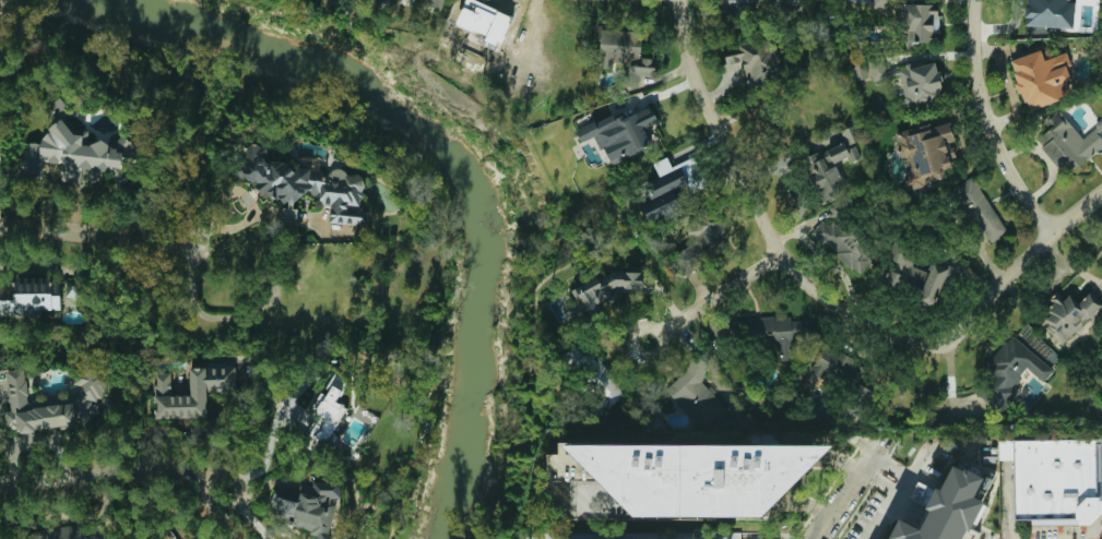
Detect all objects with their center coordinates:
building: (856, 1)
building: (880, 3)
building: (1048, 12)
building: (484, 20)
building: (920, 22)
building: (624, 56)
building: (756, 62)
building: (1042, 77)
building: (921, 83)
road: (986, 124)
building: (620, 133)
building: (851, 133)
building: (1066, 141)
river: (447, 149)
building: (926, 152)
building: (71, 153)
building: (305, 185)
building: (672, 185)
building: (838, 209)
building: (977, 209)
road: (758, 215)
road: (250, 221)
road: (93, 236)
building: (700, 241)
building: (844, 244)
road: (1015, 267)
road: (1085, 274)
building: (916, 277)
road: (1050, 285)
building: (602, 288)
road: (719, 292)
building: (32, 296)
building: (1069, 314)
road: (209, 315)
building: (778, 335)
road: (645, 357)
building: (1011, 370)
building: (838, 371)
building: (593, 373)
building: (692, 385)
building: (191, 391)
building: (50, 400)
building: (325, 418)
road: (274, 436)
road: (846, 459)
road: (891, 464)
road: (123, 472)
building: (689, 475)
road: (880, 481)
building: (1059, 481)
road: (903, 484)
road: (850, 487)
road: (810, 504)
building: (307, 506)
building: (946, 510)
building: (80, 531)
building: (40, 534)
building: (166, 535)
building: (726, 536)

